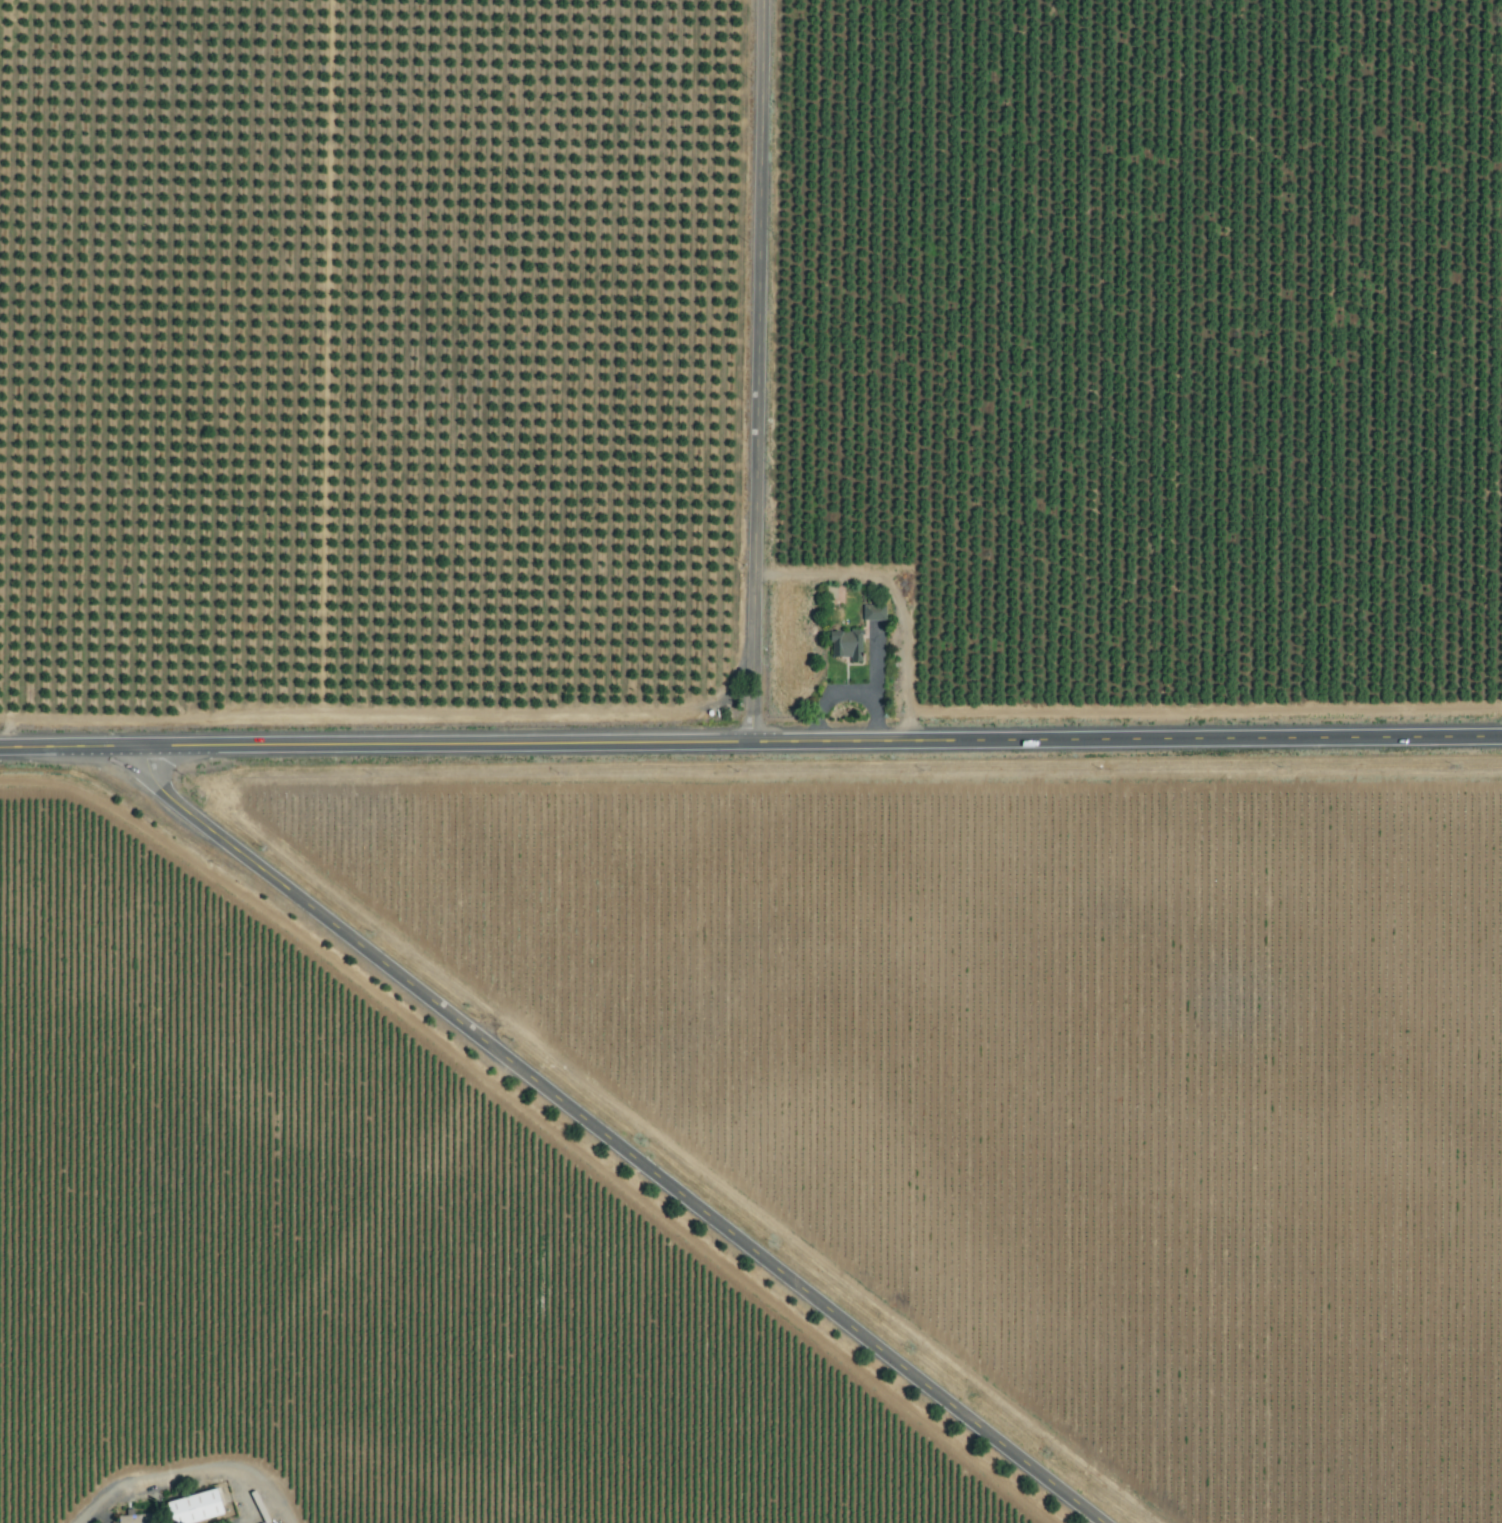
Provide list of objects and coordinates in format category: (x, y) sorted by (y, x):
road: (756, 370)
building: (841, 645)
road: (875, 659)
road: (848, 692)
road: (750, 741)
road: (612, 1141)
road: (182, 1469)
building: (202, 1508)
building: (141, 1519)

